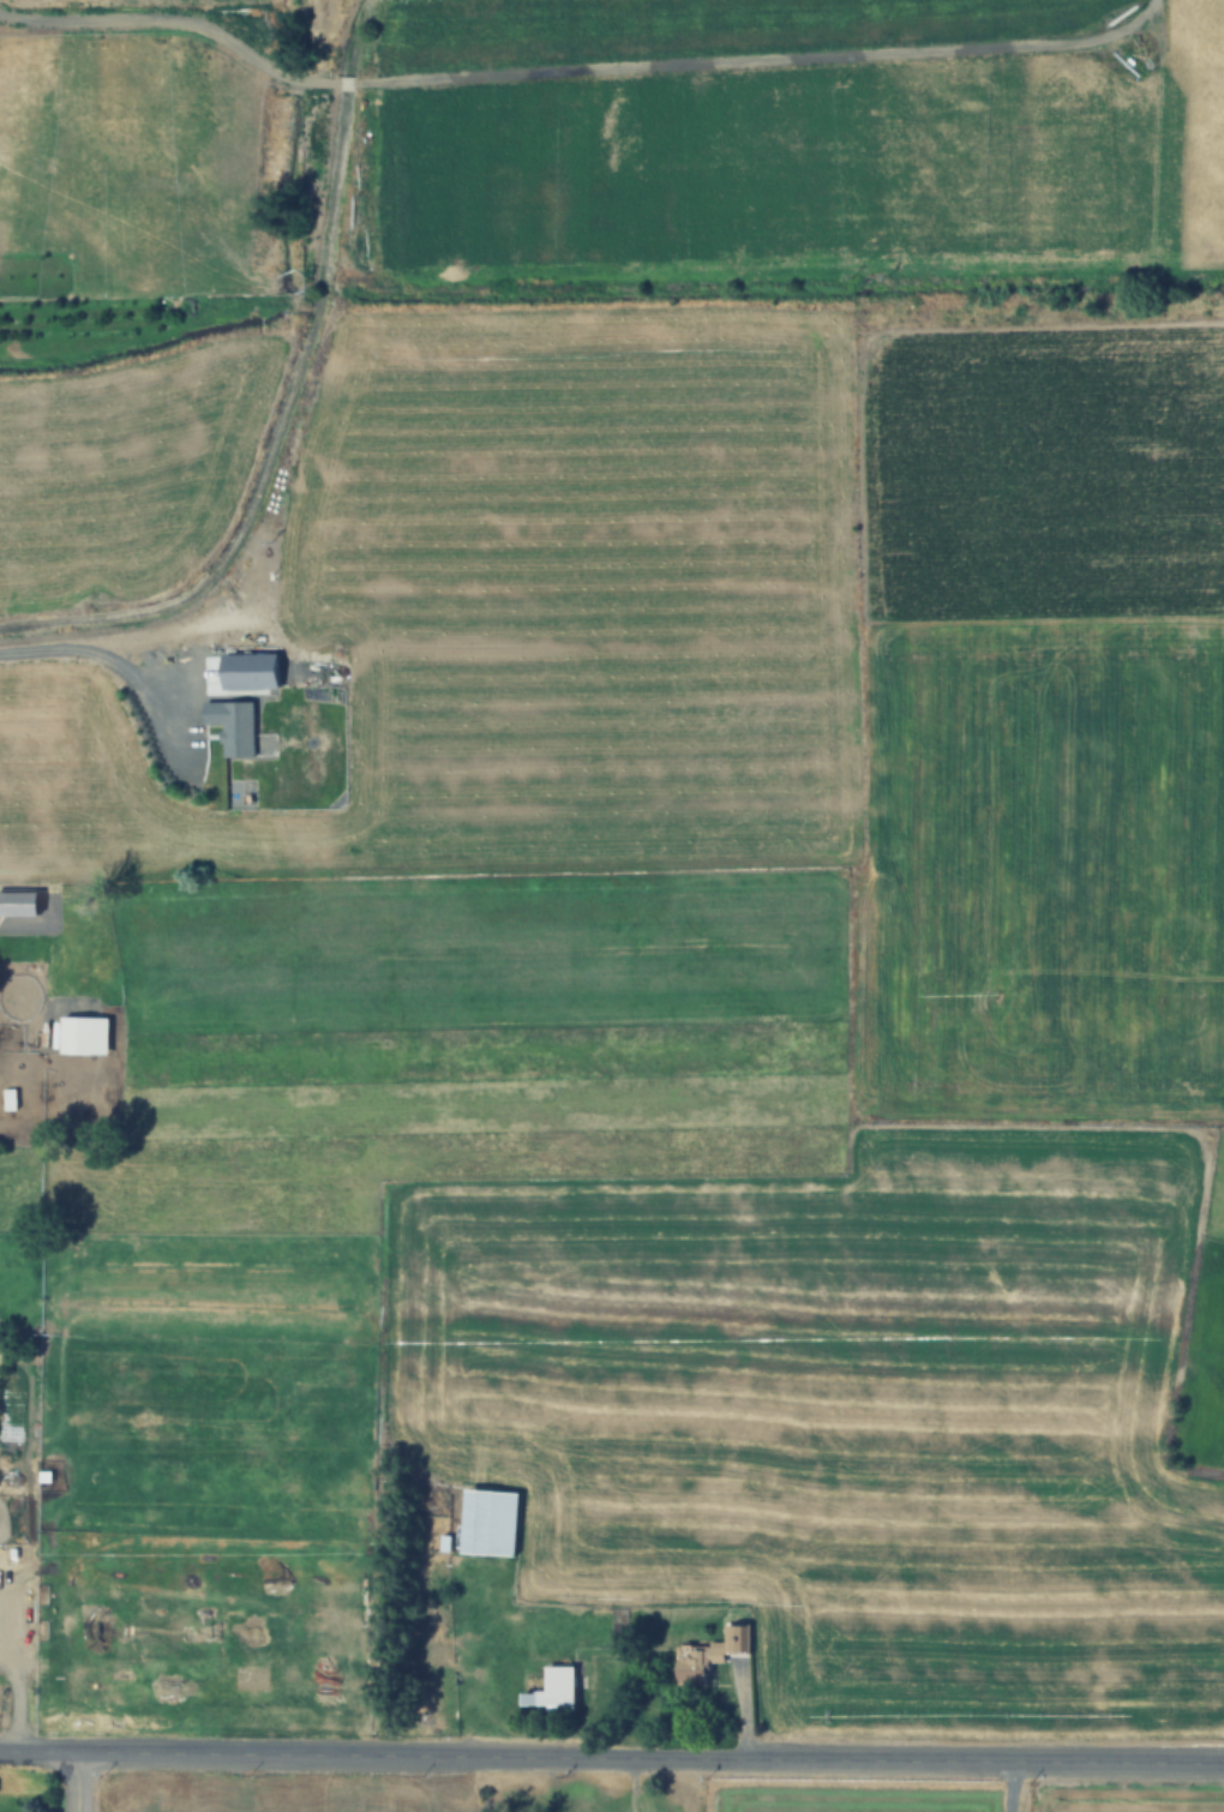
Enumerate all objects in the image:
building: (84, 1036)
building: (11, 1100)
building: (490, 1522)
building: (734, 1625)
building: (698, 1663)
building: (554, 1690)
road: (41, 1754)
road: (652, 1759)
road: (80, 1783)

